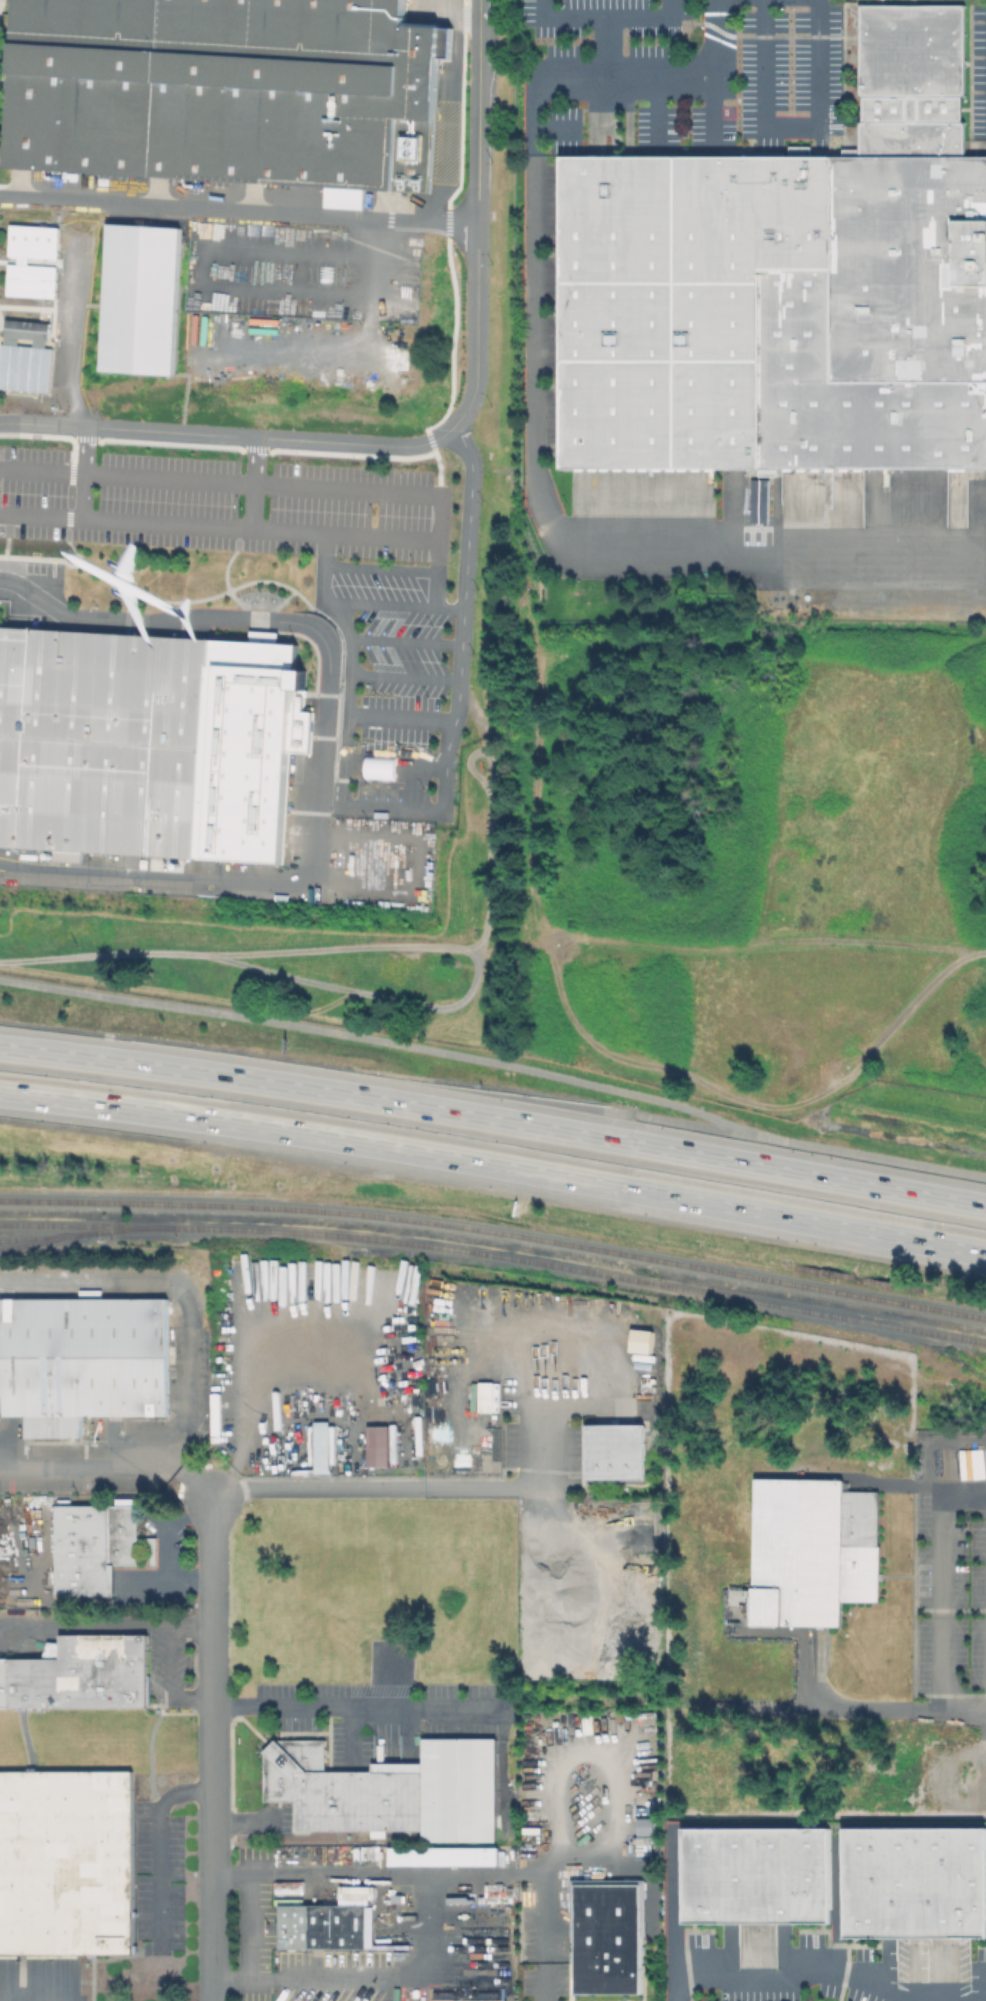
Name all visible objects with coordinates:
road: (564, 14)
road: (644, 14)
road: (604, 44)
building: (222, 89)
road: (789, 128)
building: (345, 200)
road: (239, 209)
building: (35, 242)
building: (33, 281)
building: (786, 285)
building: (141, 298)
road: (72, 334)
building: (29, 337)
road: (532, 399)
road: (443, 435)
road: (83, 447)
road: (41, 467)
road: (251, 482)
road: (404, 491)
building: (758, 496)
road: (63, 516)
road: (258, 528)
road: (450, 606)
road: (346, 725)
building: (105, 743)
road: (331, 804)
road: (195, 881)
road: (496, 1062)
road: (308, 1089)
road: (679, 1122)
road: (494, 1164)
road: (801, 1174)
railway: (281, 1207)
railway: (87, 1232)
railway: (54, 1239)
railway: (380, 1252)
railway: (496, 1254)
railway: (773, 1276)
building: (640, 1340)
building: (83, 1360)
building: (483, 1389)
building: (376, 1445)
building: (322, 1446)
building: (613, 1451)
road: (111, 1463)
road: (379, 1491)
road: (173, 1523)
building: (124, 1532)
building: (803, 1547)
building: (863, 1548)
building: (85, 1552)
road: (186, 1581)
road: (948, 1587)
road: (212, 1605)
building: (770, 1605)
road: (92, 1630)
road: (175, 1663)
building: (80, 1675)
road: (352, 1708)
road: (882, 1710)
road: (212, 1780)
building: (391, 1789)
road: (163, 1852)
building: (444, 1858)
building: (67, 1863)
road: (441, 1876)
building: (754, 1882)
building: (916, 1893)
building: (528, 1899)
road: (213, 1923)
building: (324, 1927)
building: (614, 1940)
road: (251, 1947)
road: (789, 1977)
road: (388, 1978)

